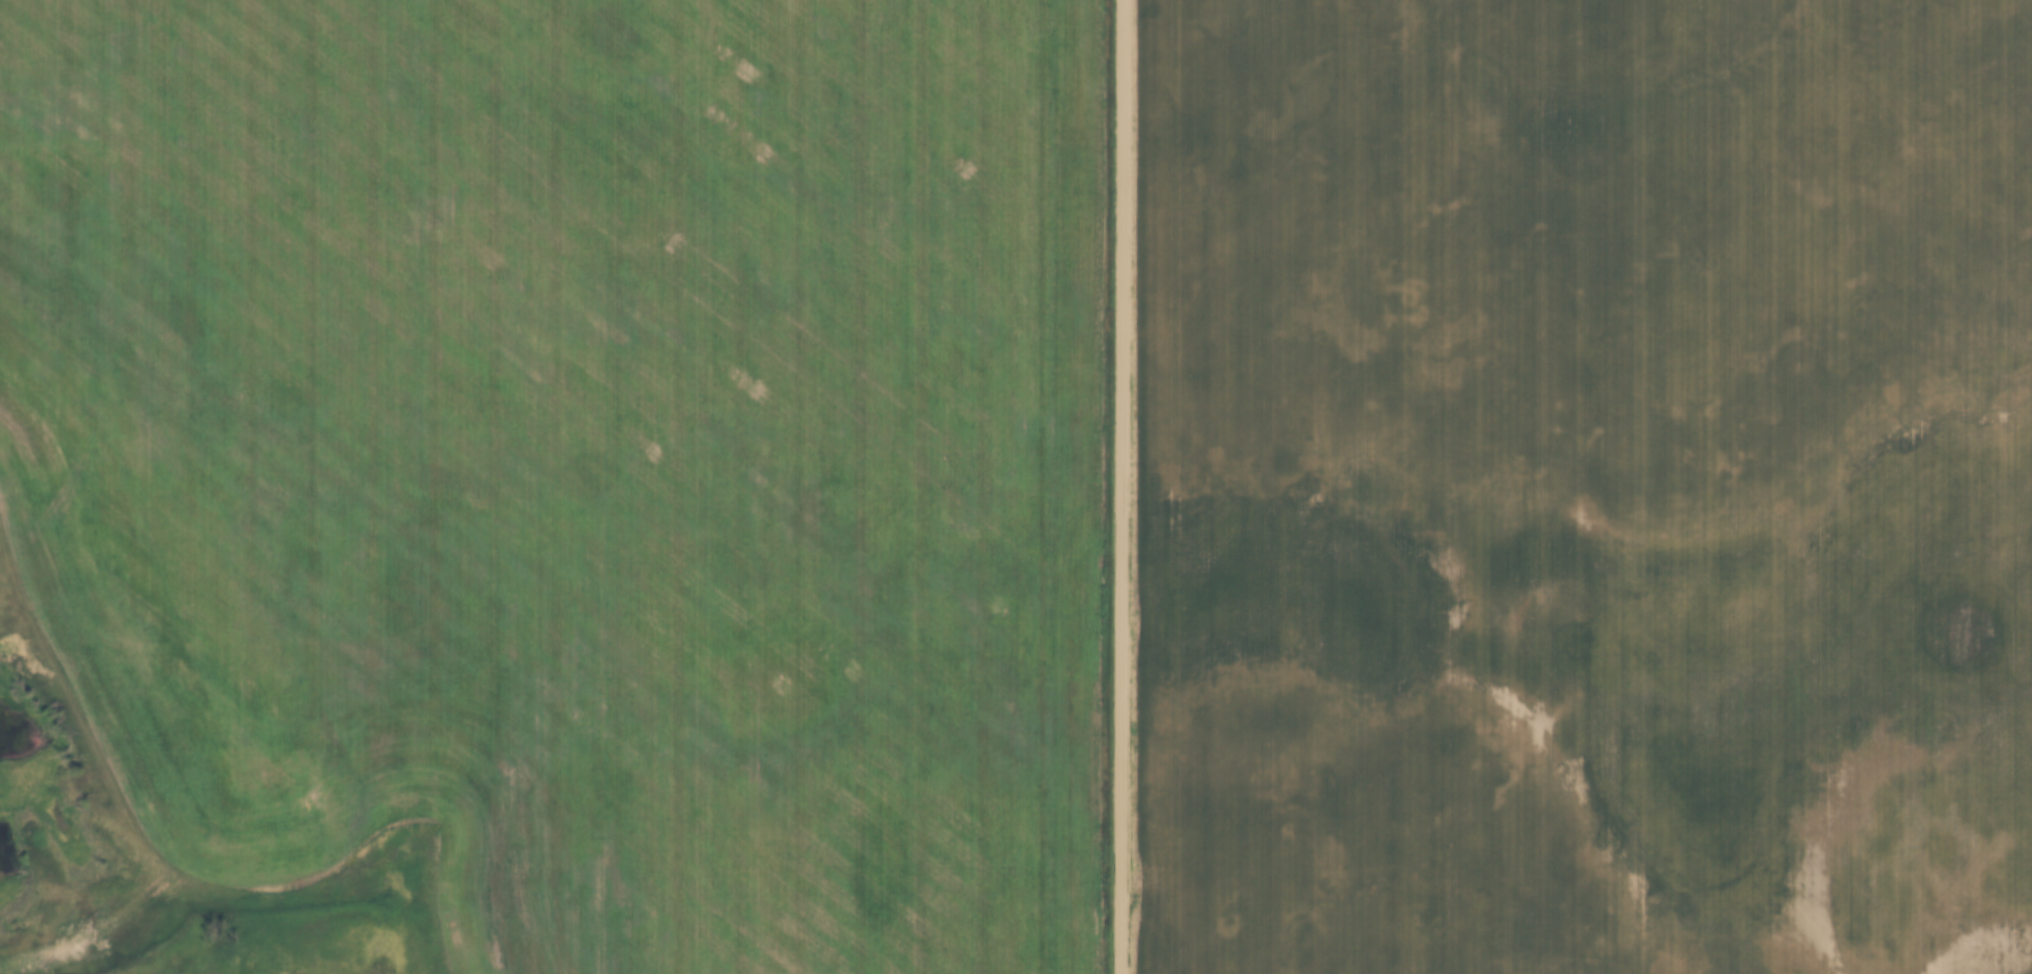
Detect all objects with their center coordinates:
road: (1123, 486)

